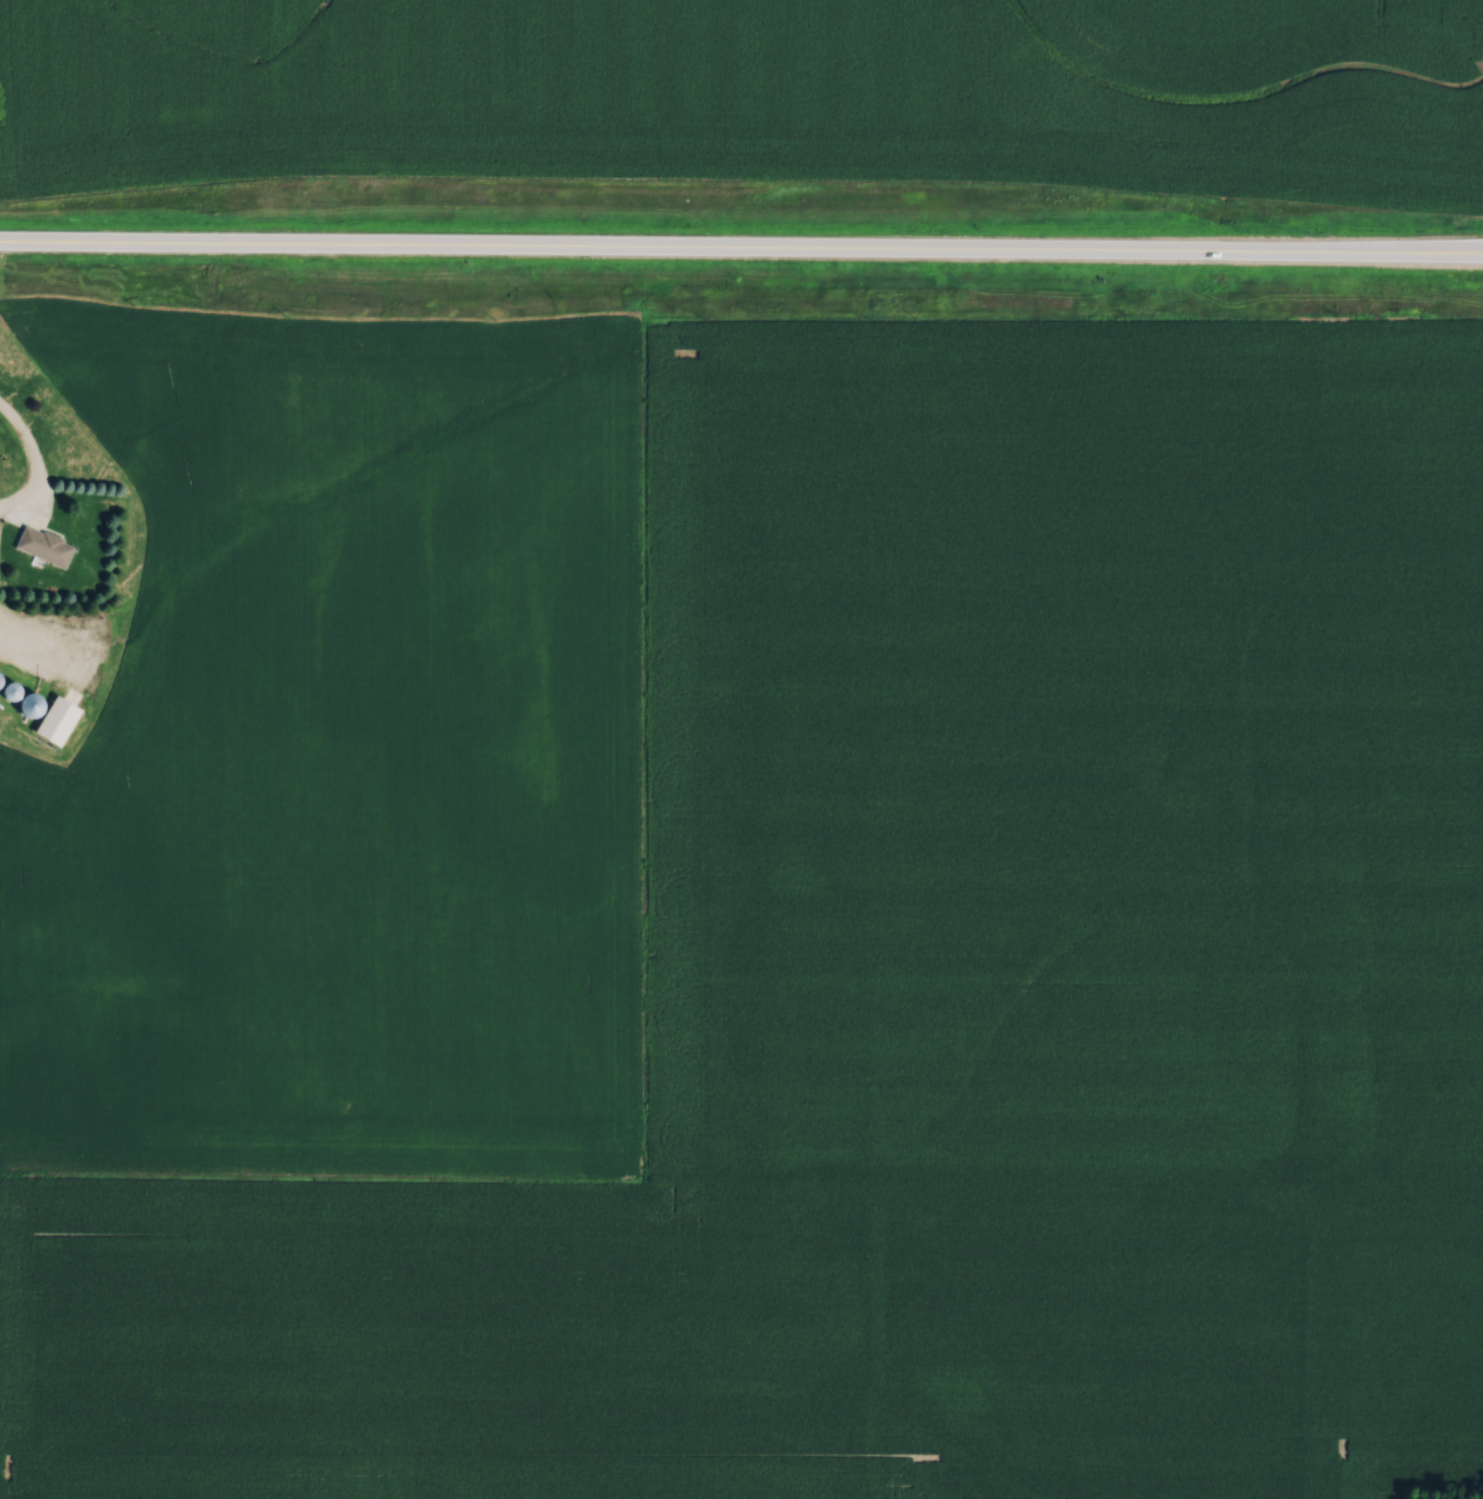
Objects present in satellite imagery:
road: (700, 242)
road: (1442, 244)
road: (1442, 247)
road: (26, 453)
building: (41, 543)
building: (20, 701)
building: (52, 719)

